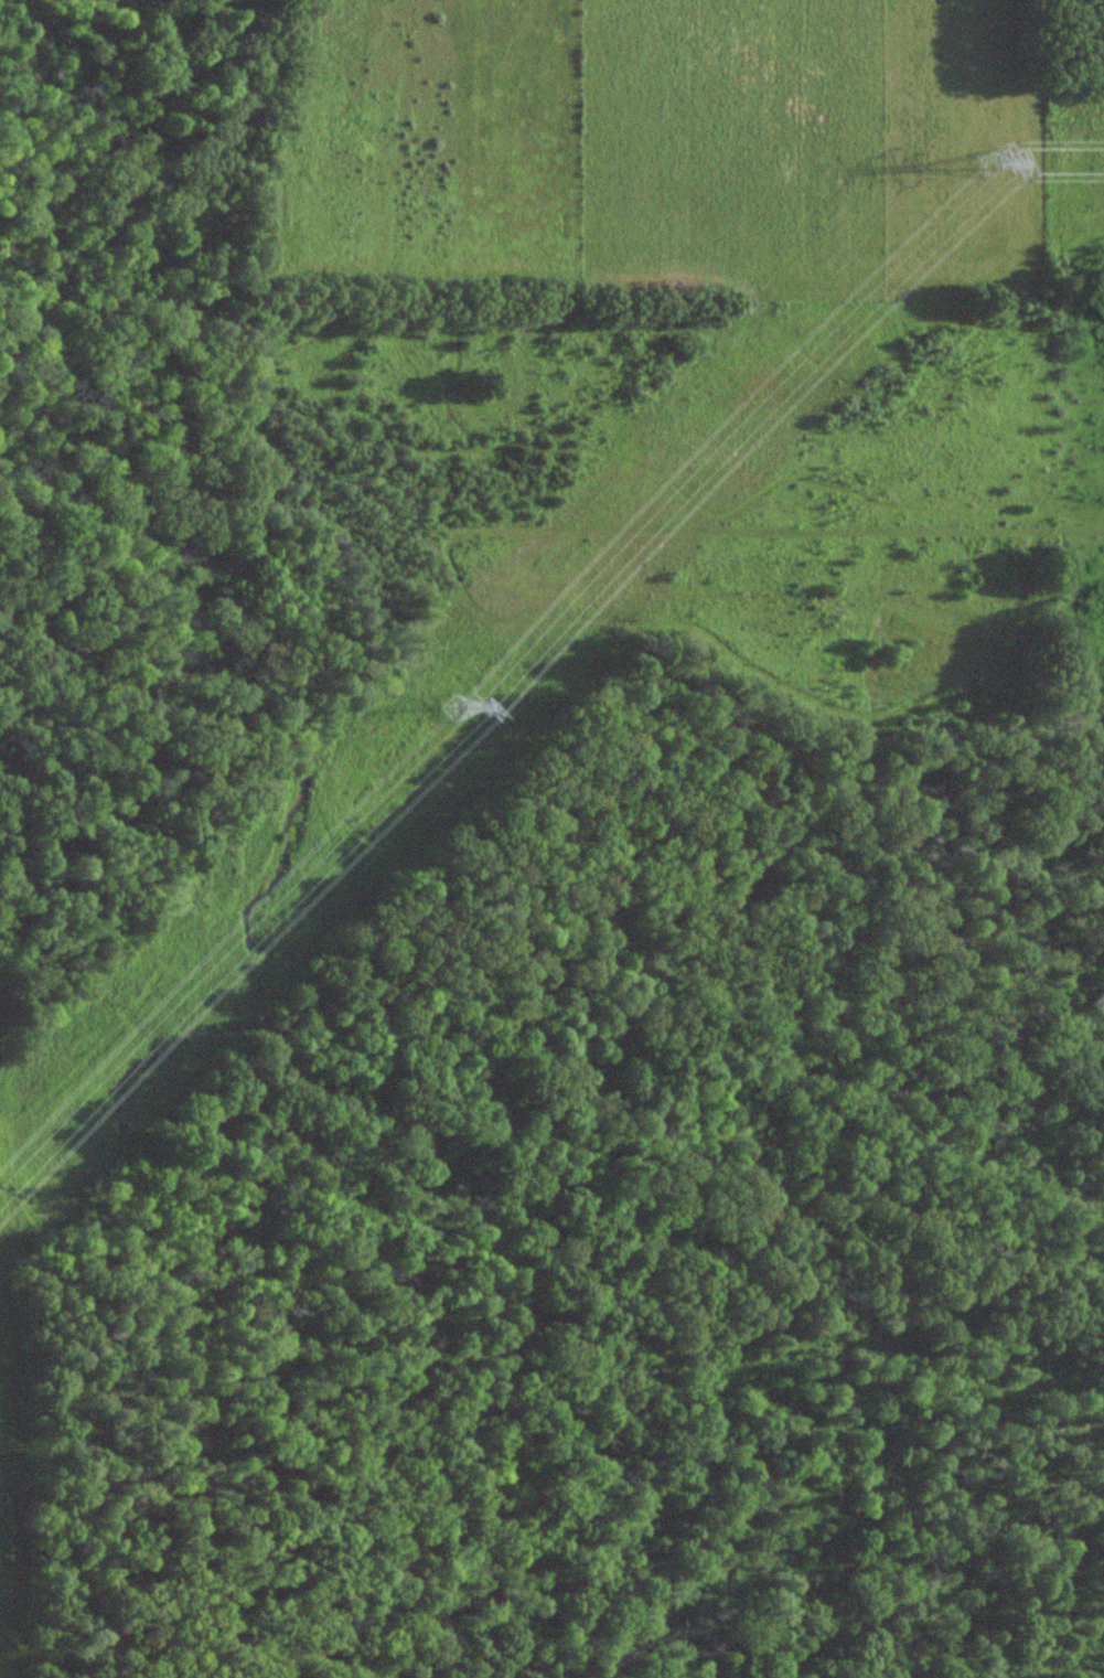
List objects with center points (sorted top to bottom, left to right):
power tower: (996, 170)
power tower: (455, 717)

